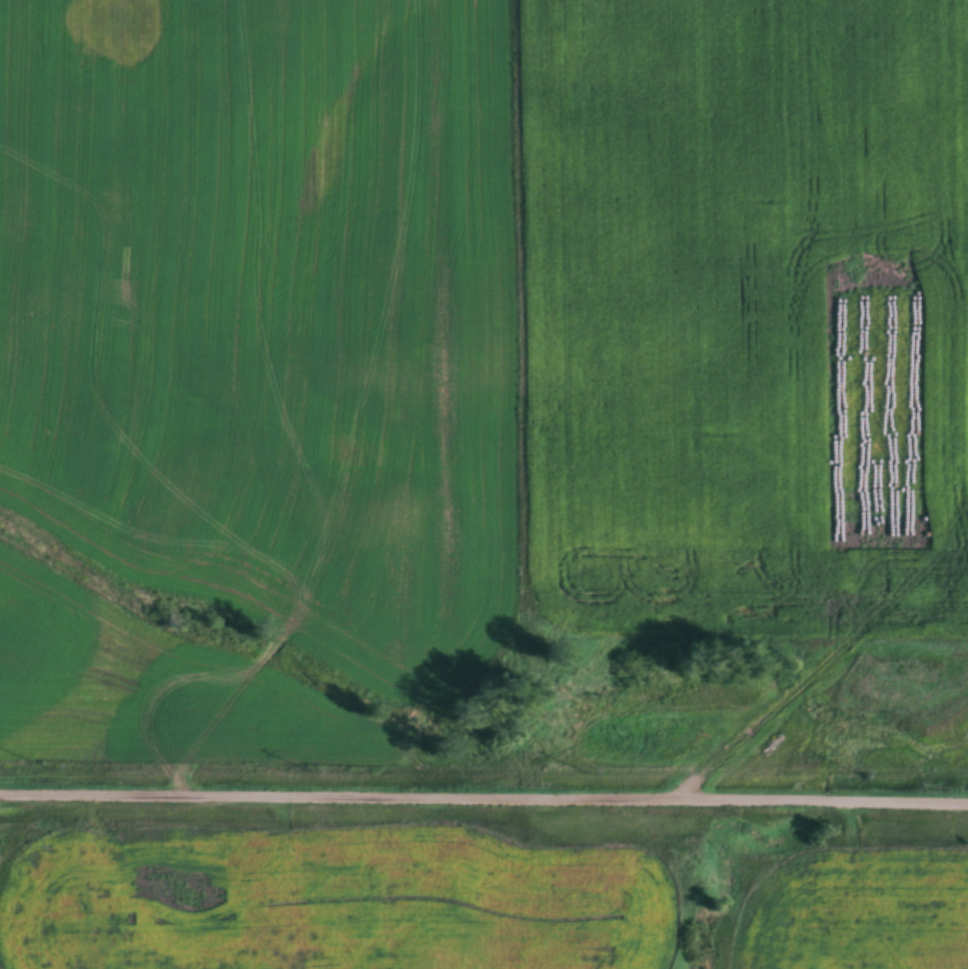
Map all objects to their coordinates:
road: (483, 796)

